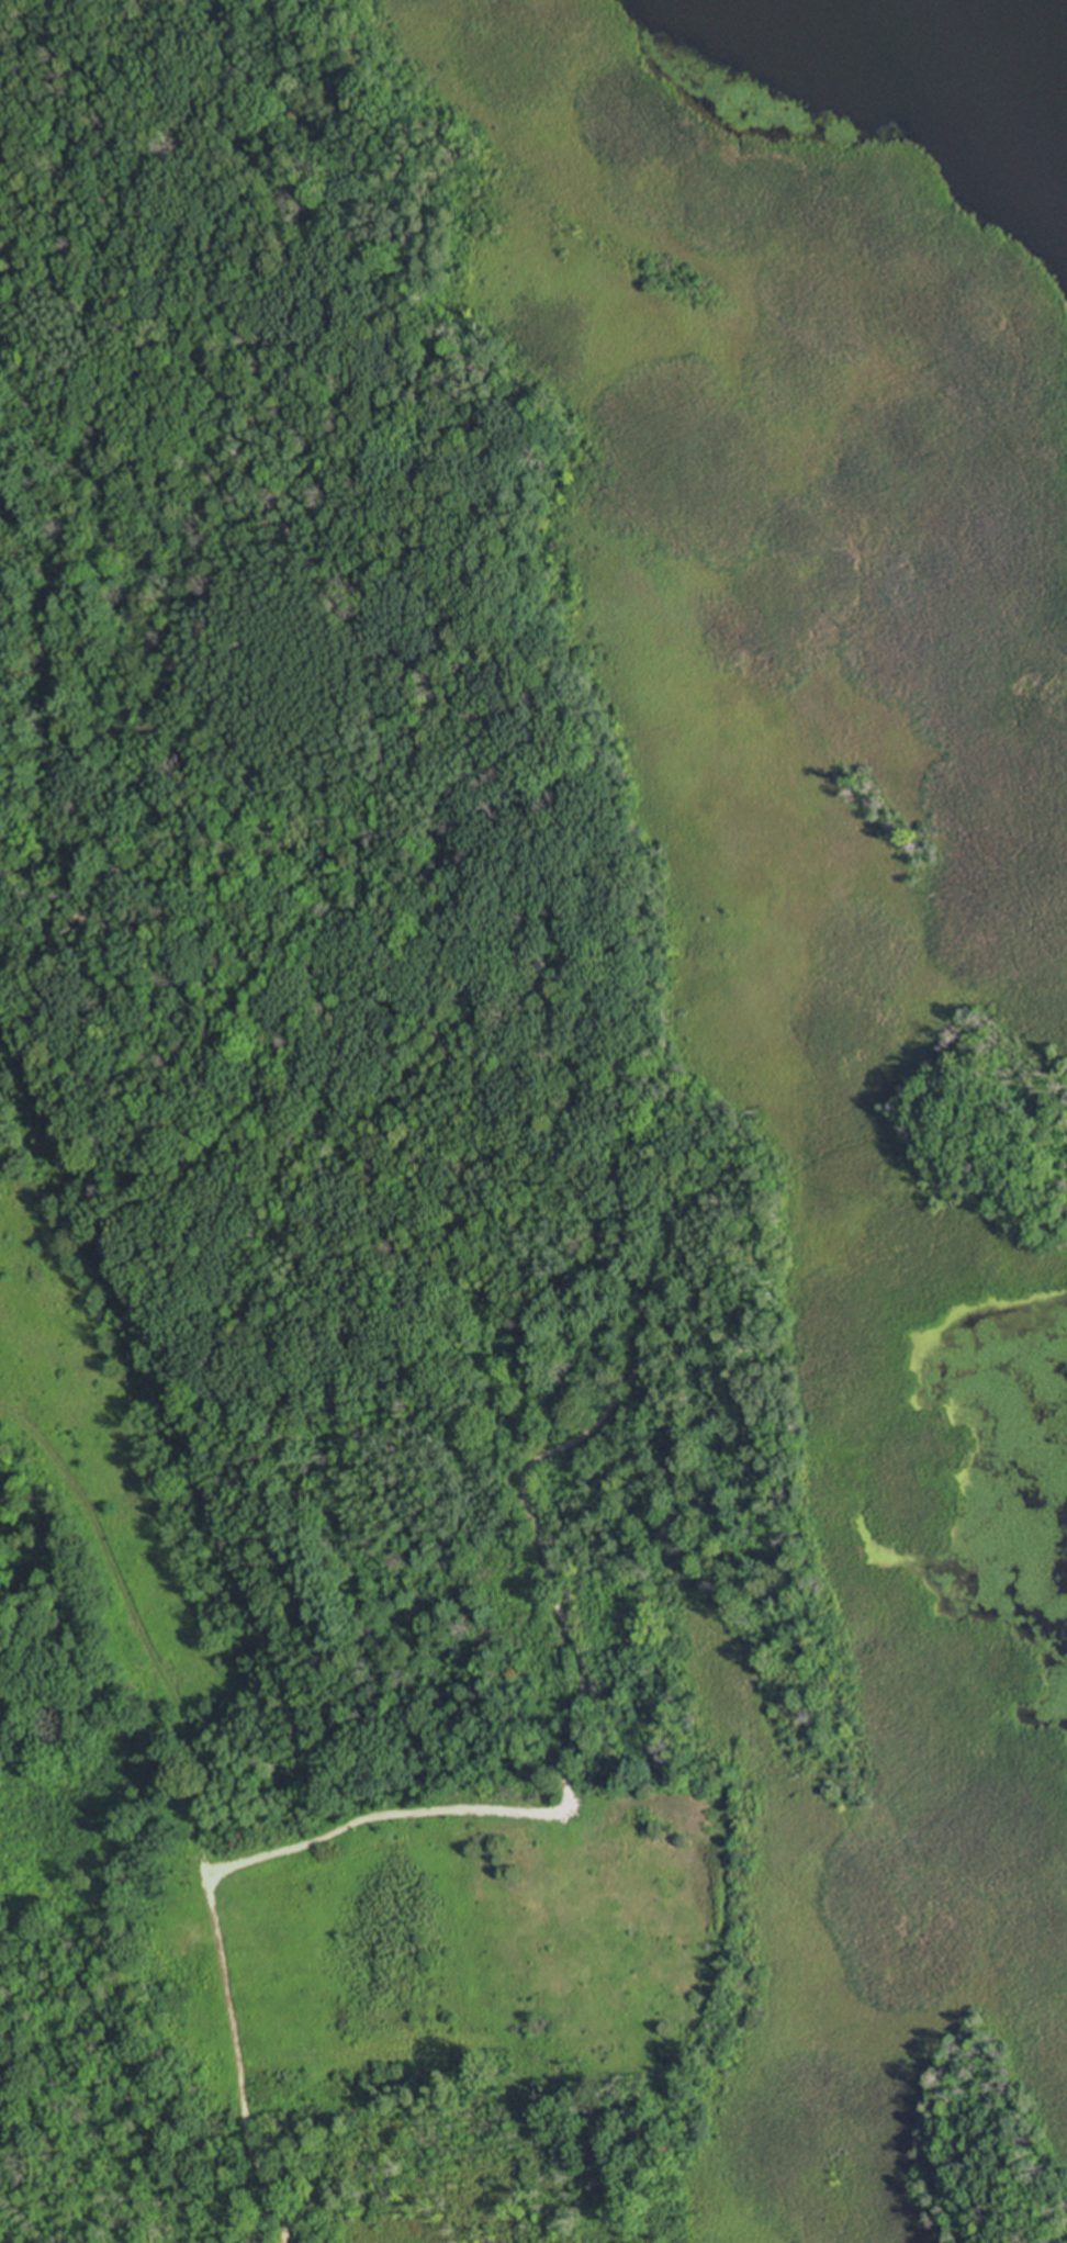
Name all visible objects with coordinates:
river: (985, 68)

